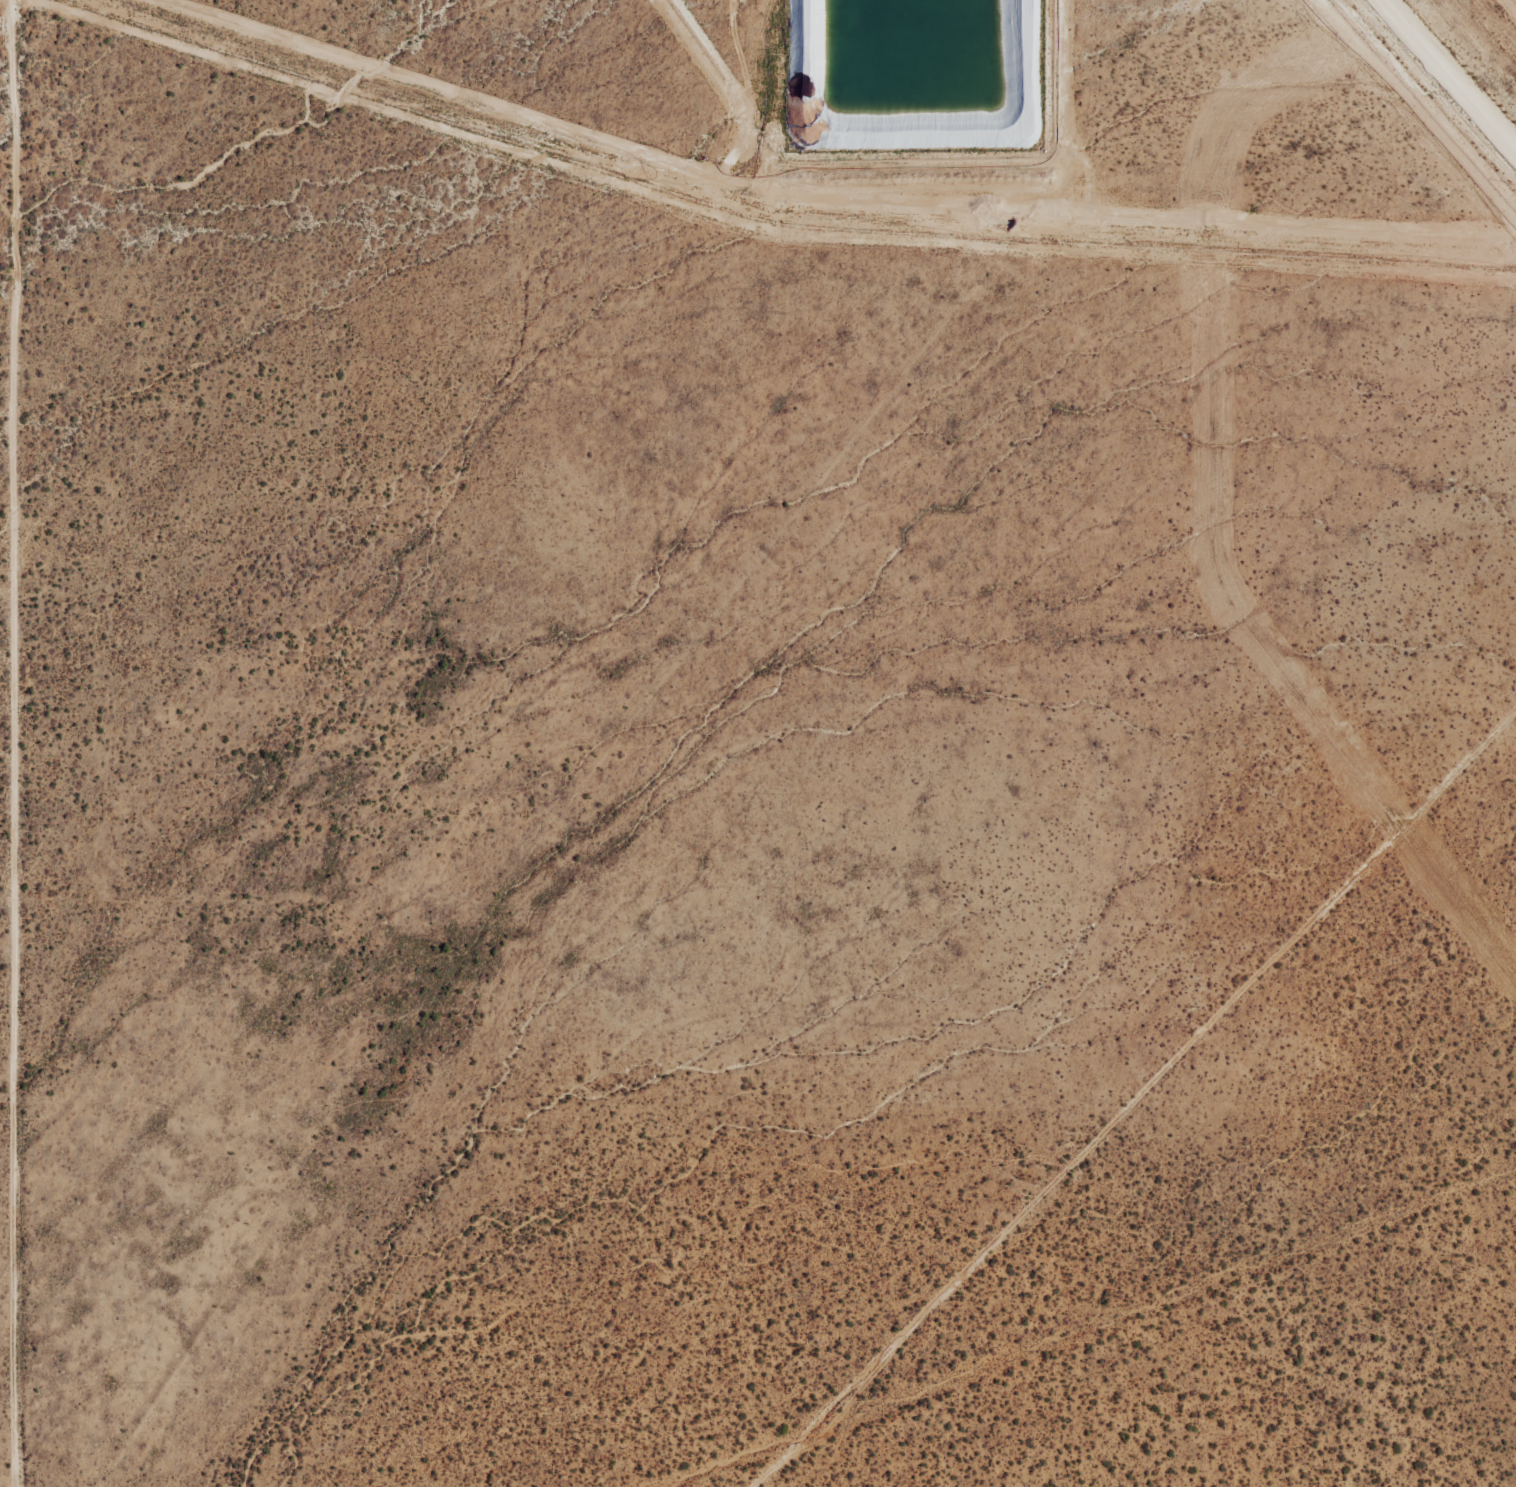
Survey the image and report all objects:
road: (1452, 73)

